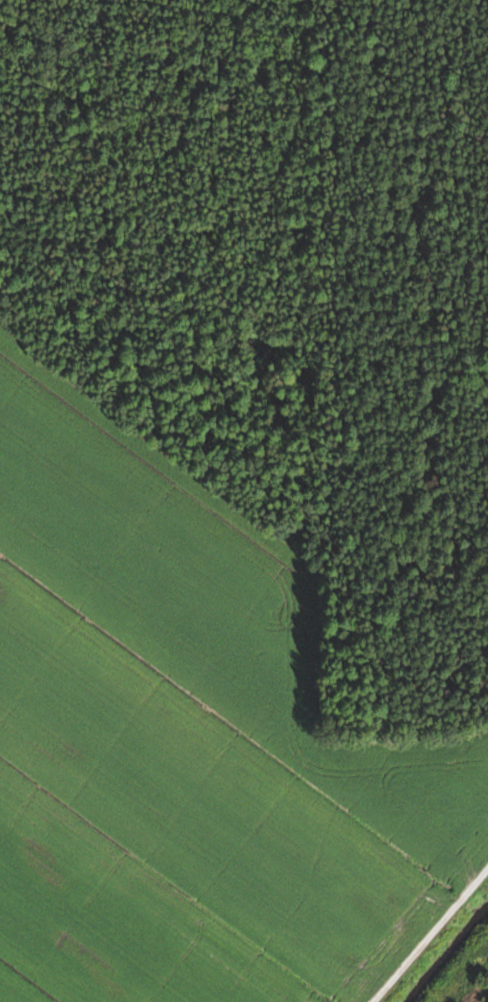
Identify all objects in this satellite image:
road: (427, 932)

